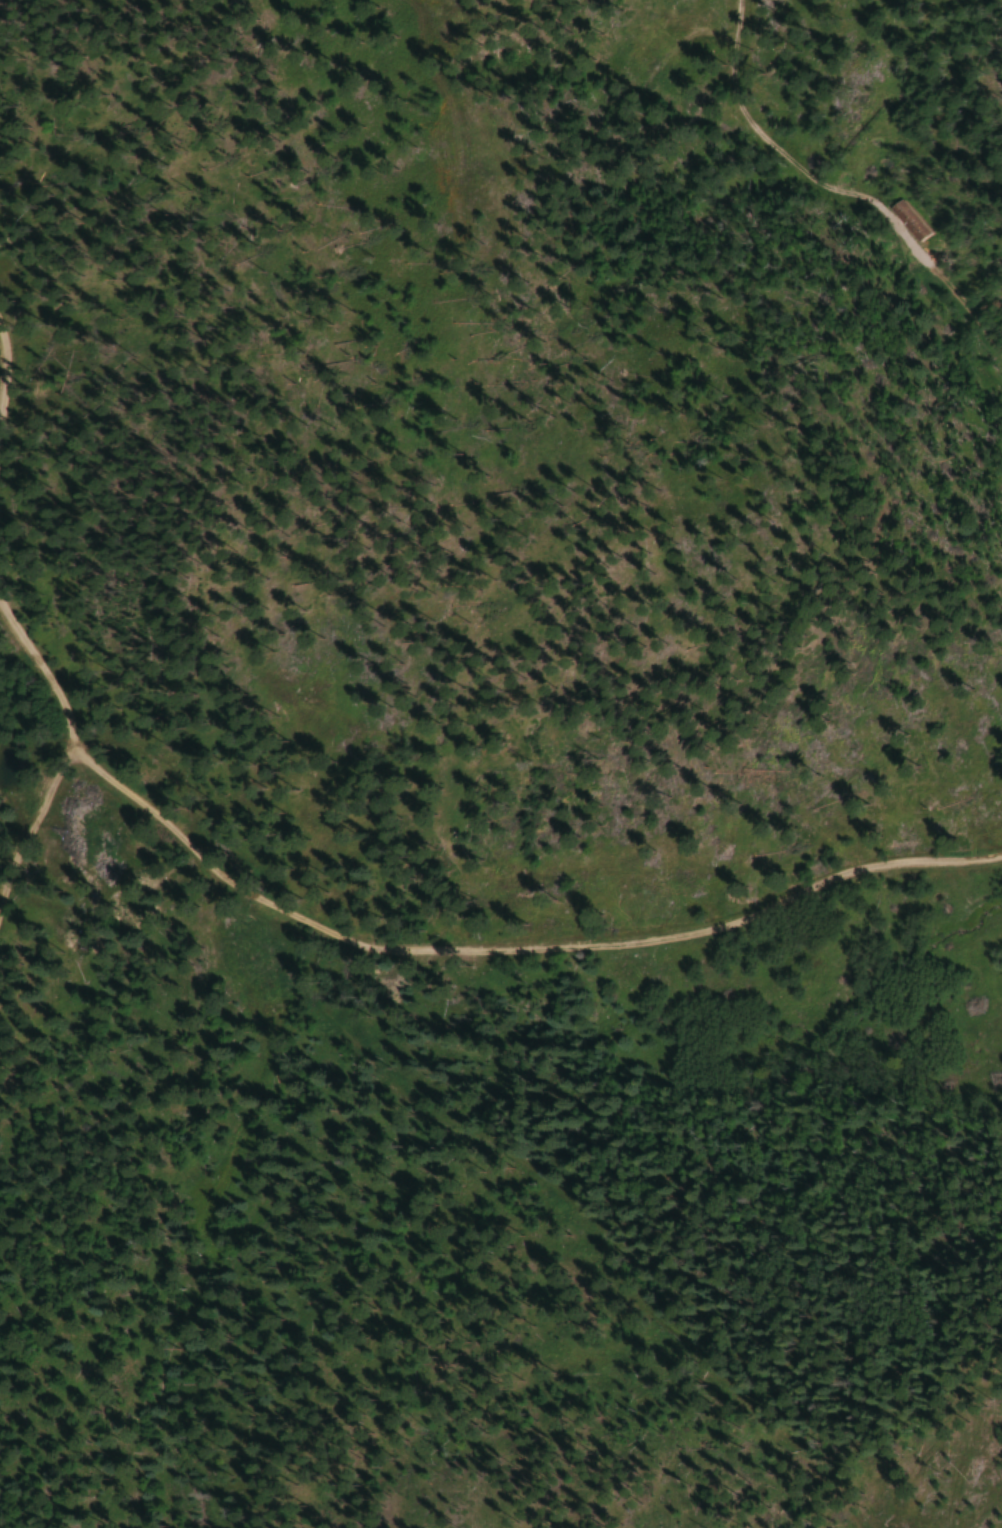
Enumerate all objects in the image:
road: (825, 194)
building: (904, 220)
road: (38, 677)
road: (37, 830)
road: (515, 938)

